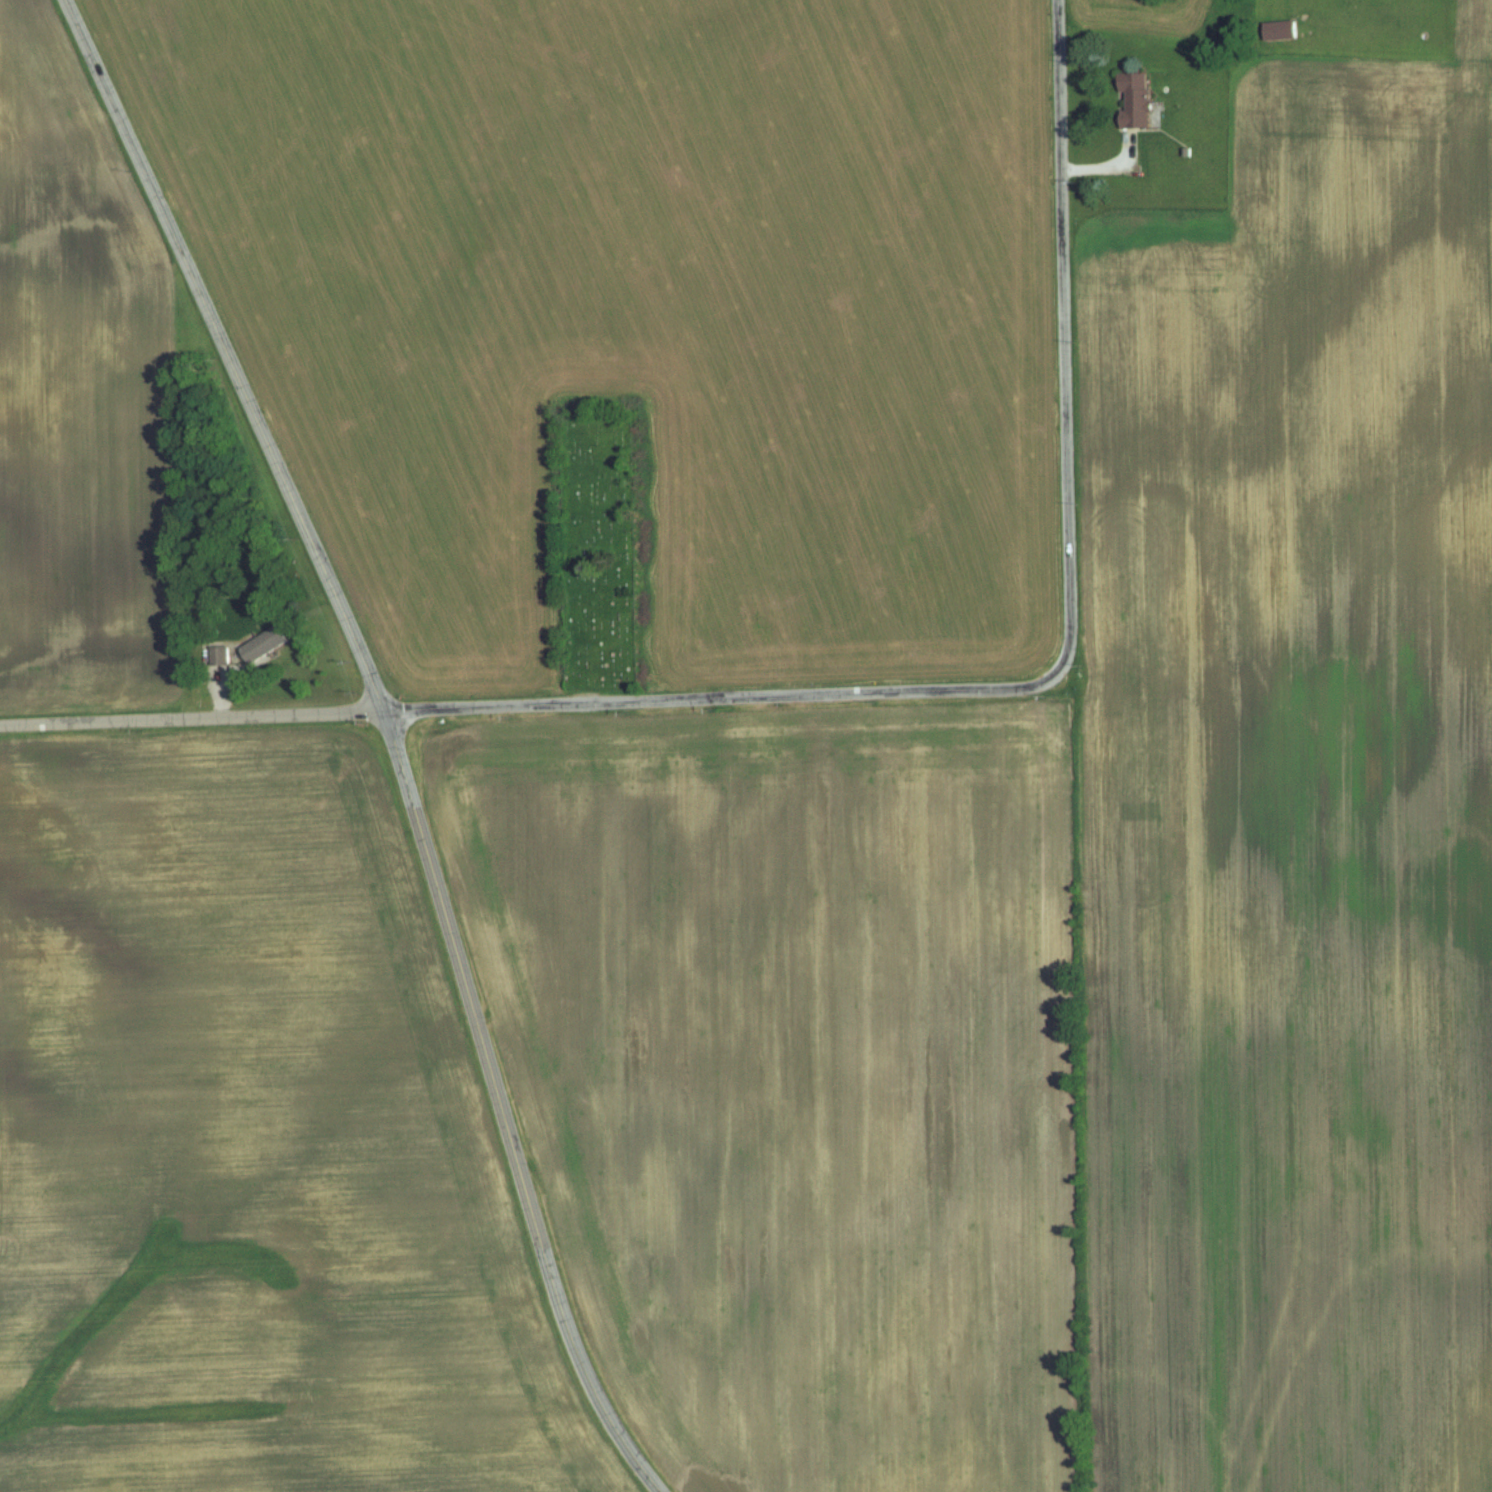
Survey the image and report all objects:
building: (1283, 30)
building: (1137, 100)
road: (1064, 335)
building: (266, 643)
building: (221, 654)
road: (533, 703)
road: (390, 737)

